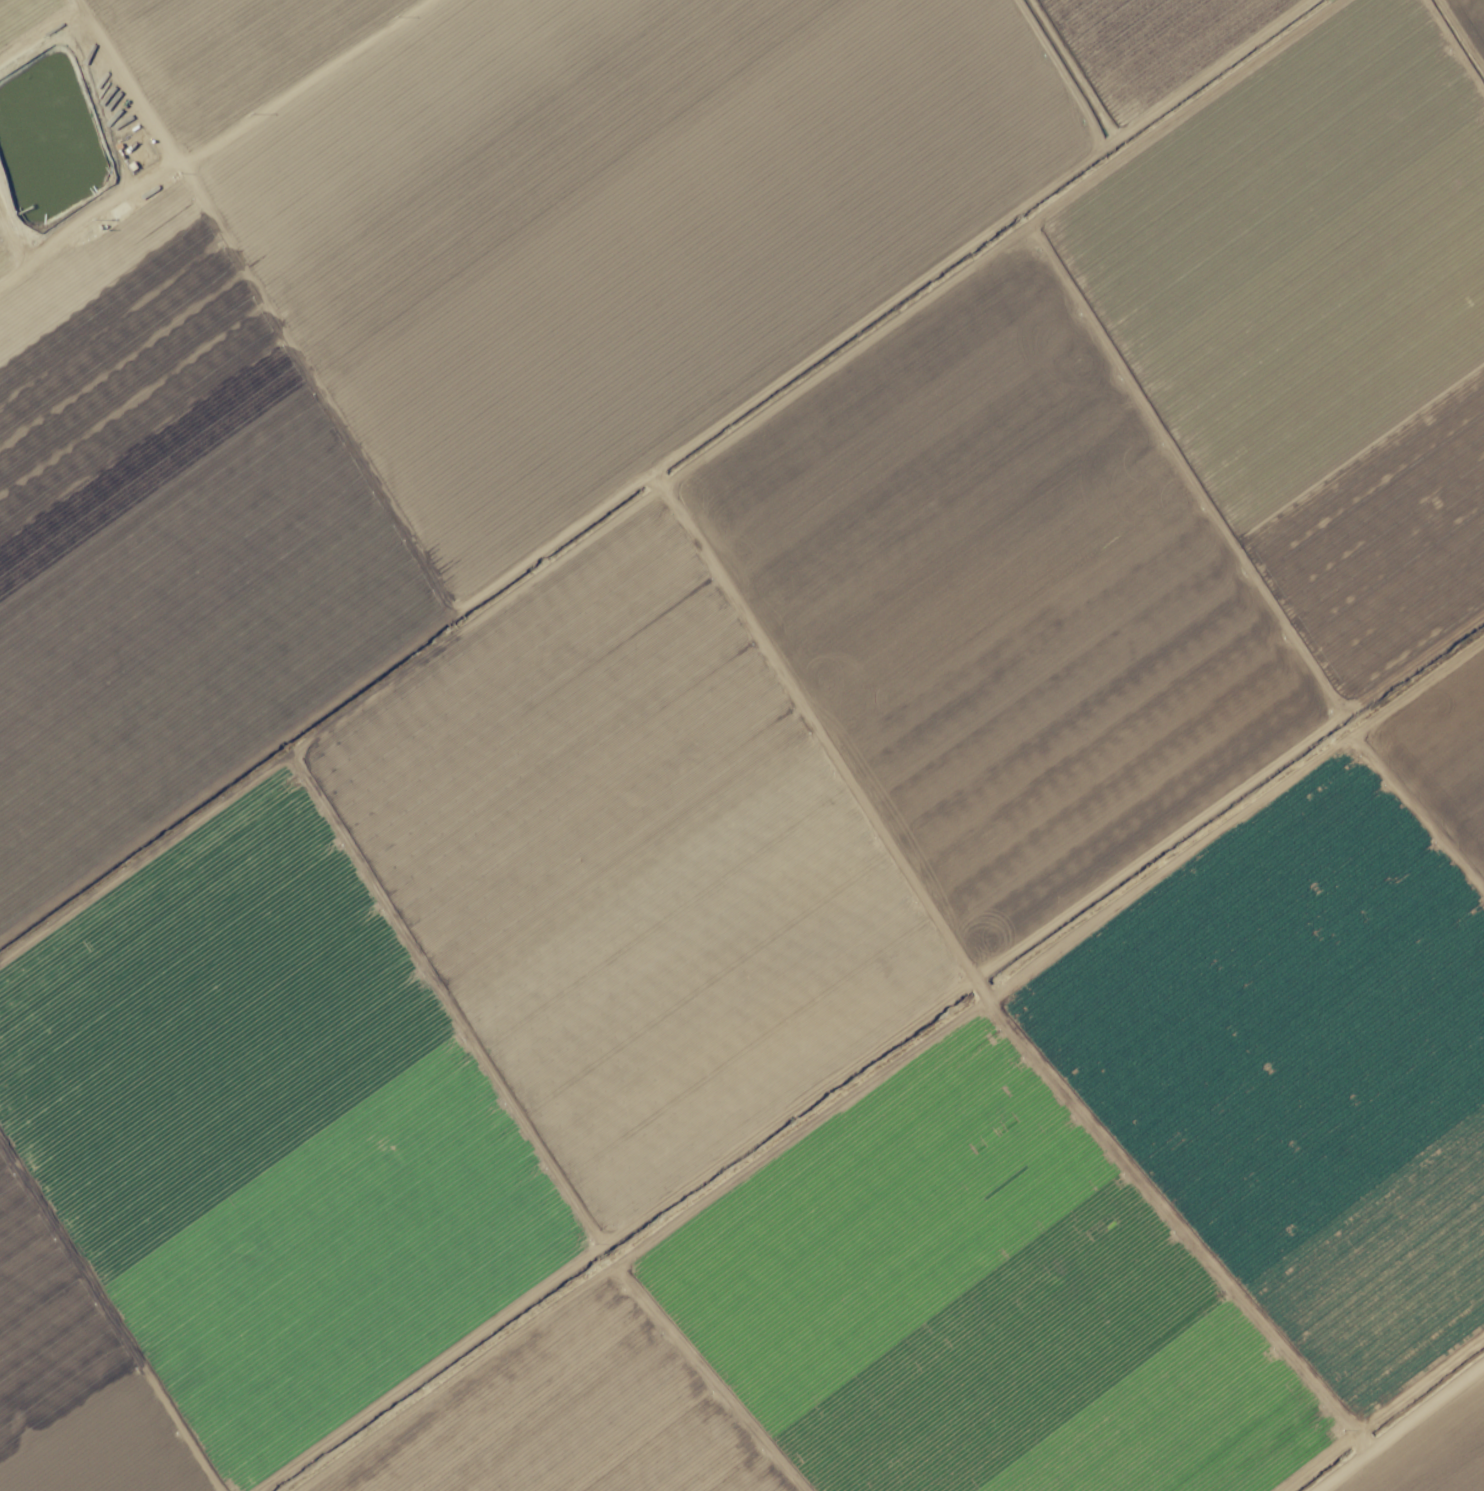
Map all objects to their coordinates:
road: (221, 150)
crop: (742, 745)
road: (1385, 1406)

